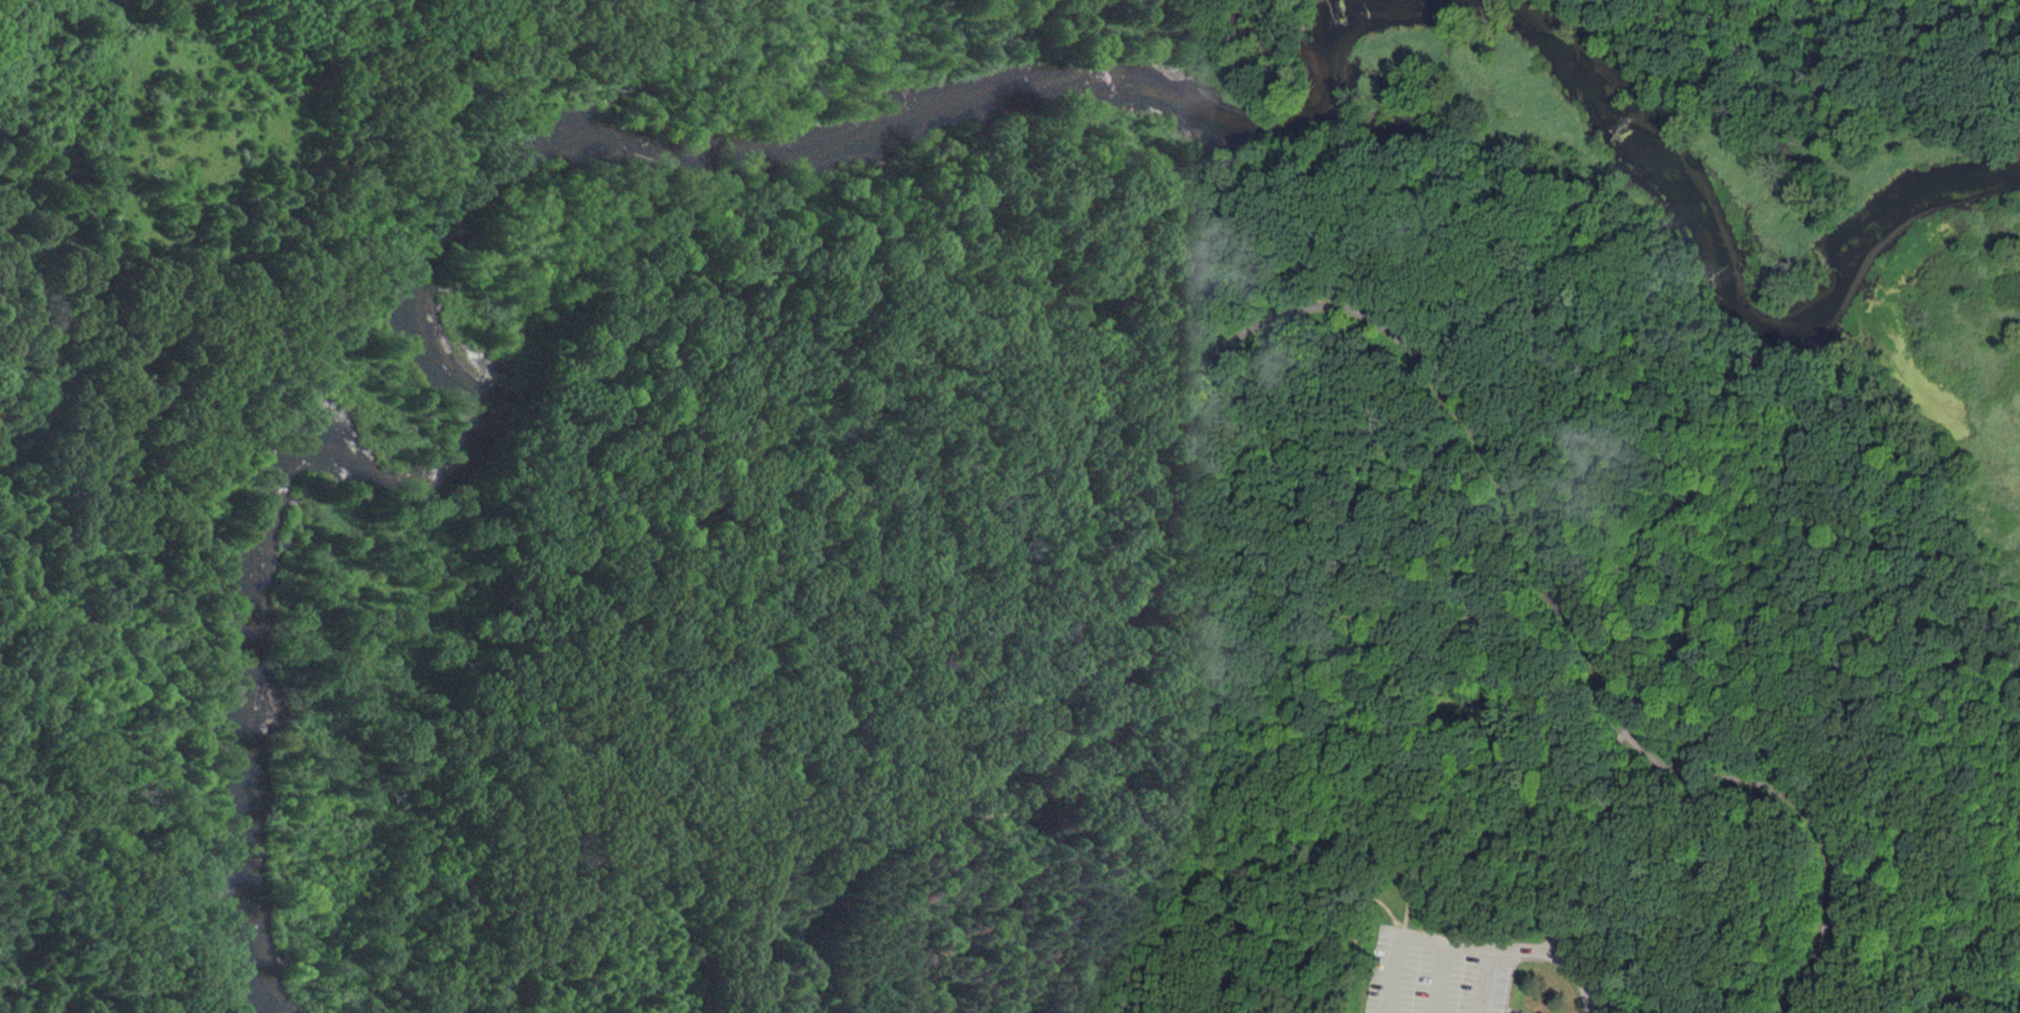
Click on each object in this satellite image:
road: (968, 214)
river: (465, 218)
river: (1716, 267)
road: (1305, 311)
road: (263, 418)
park: (1010, 506)
road: (1608, 849)
road: (1287, 889)
building: (1408, 891)
building: (1414, 892)
road: (1406, 916)
road: (1168, 924)
road: (1404, 936)
road: (1062, 944)
road: (1556, 957)
parking lot: (1437, 972)
road: (1996, 977)
road: (1438, 978)
road: (1483, 982)
road: (1501, 1008)

